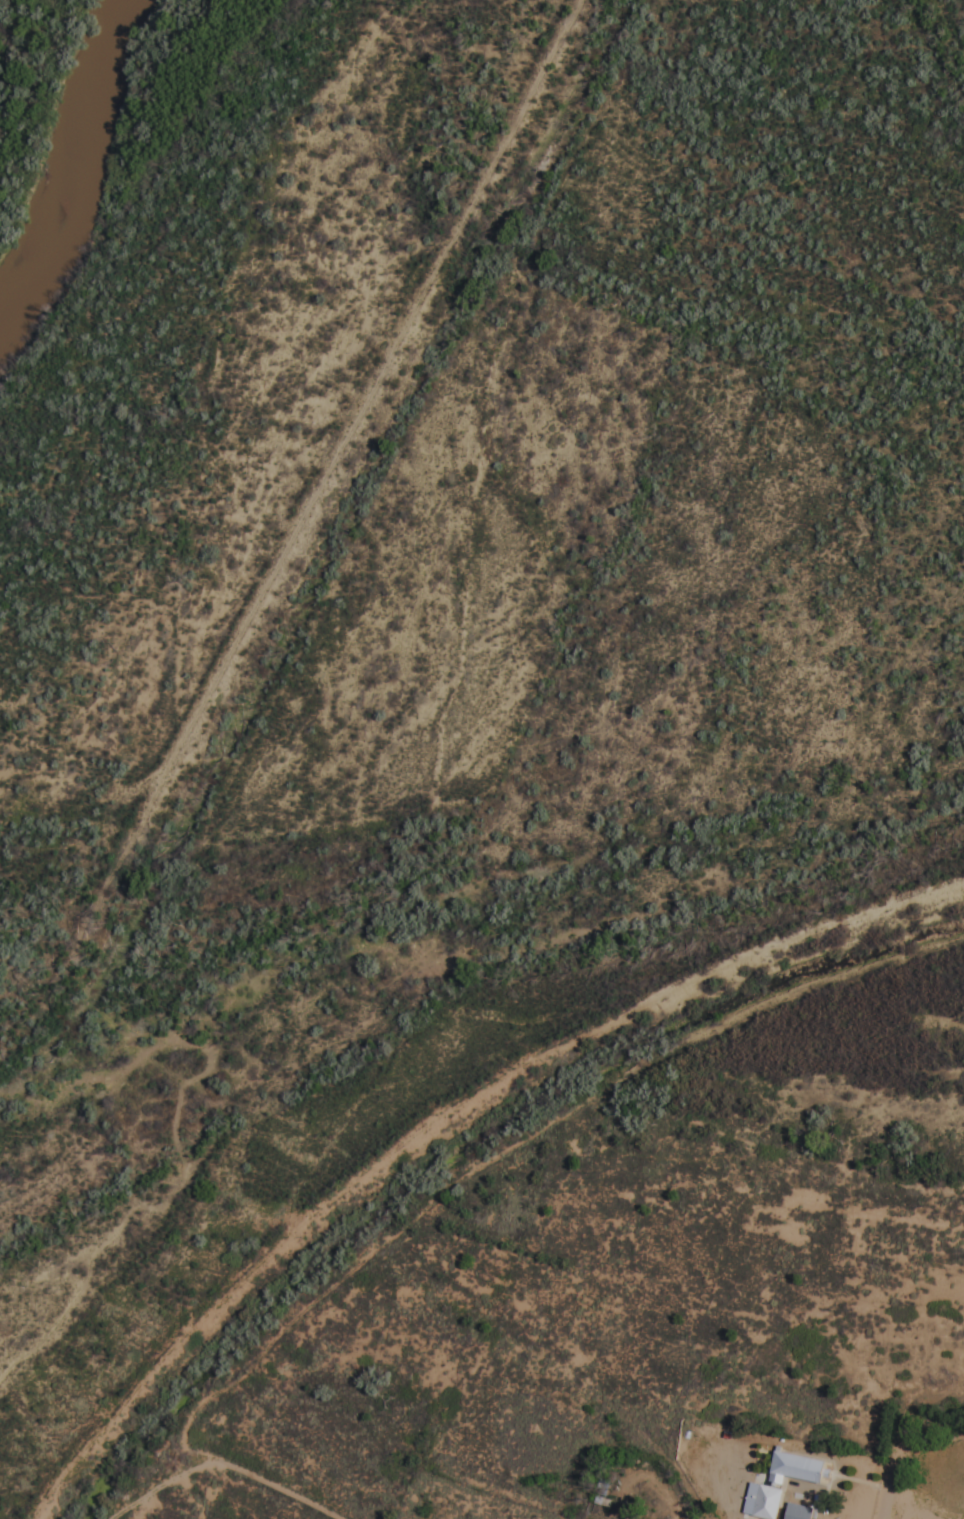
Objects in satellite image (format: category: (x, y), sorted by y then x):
river: (81, 162)
building: (799, 1468)
road: (894, 1474)
road: (170, 1481)
road: (286, 1495)
building: (765, 1502)
building: (799, 1512)

